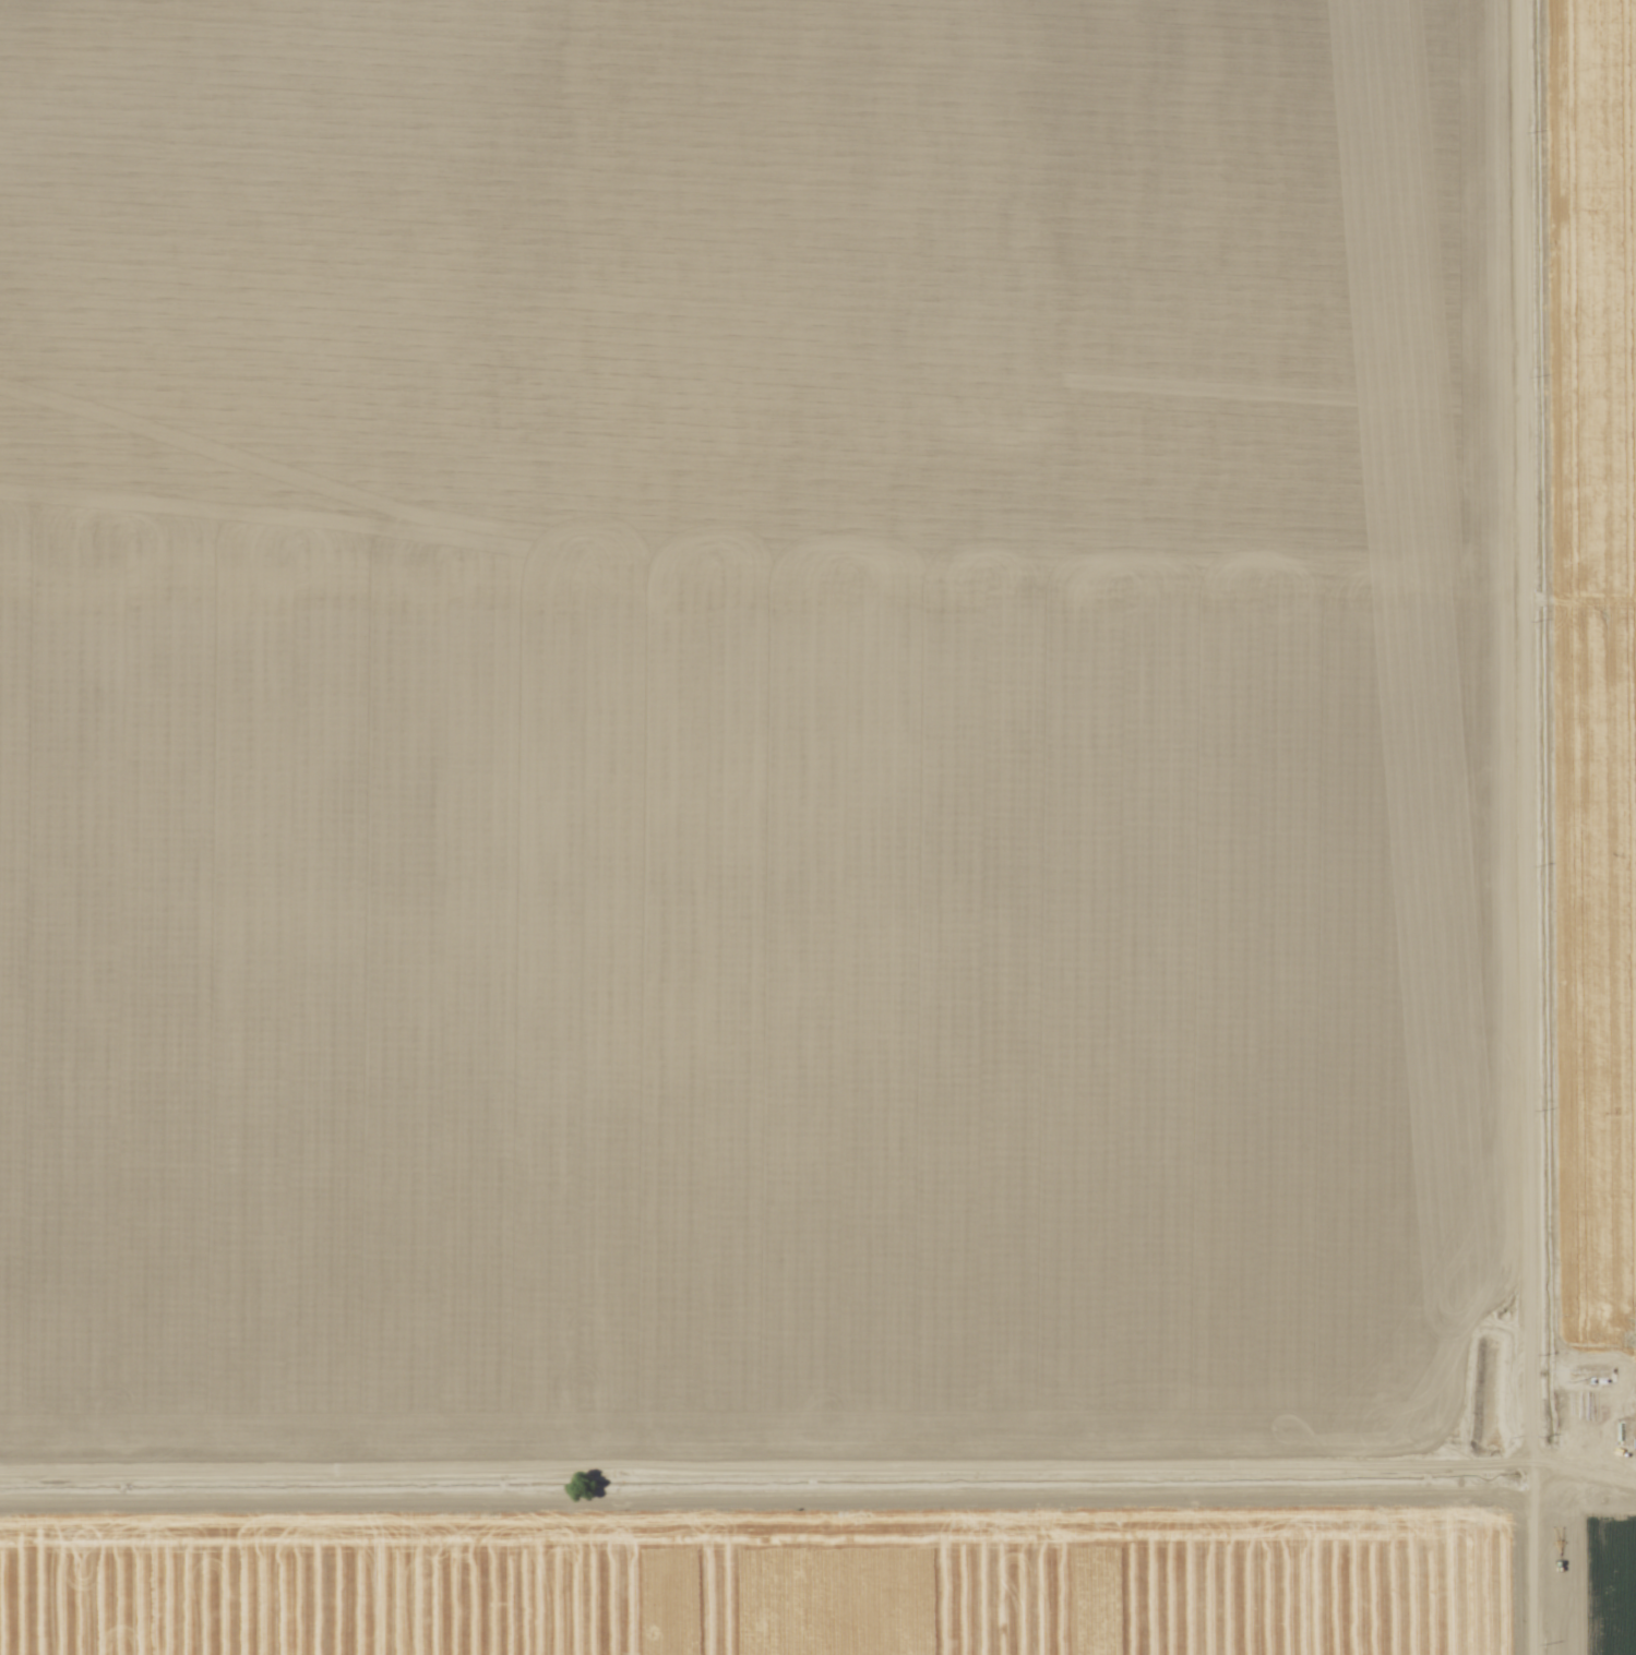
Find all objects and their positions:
crop: (753, 736)
crop: (1572, 812)
road: (1513, 827)
road: (755, 1503)
crop: (763, 1562)

